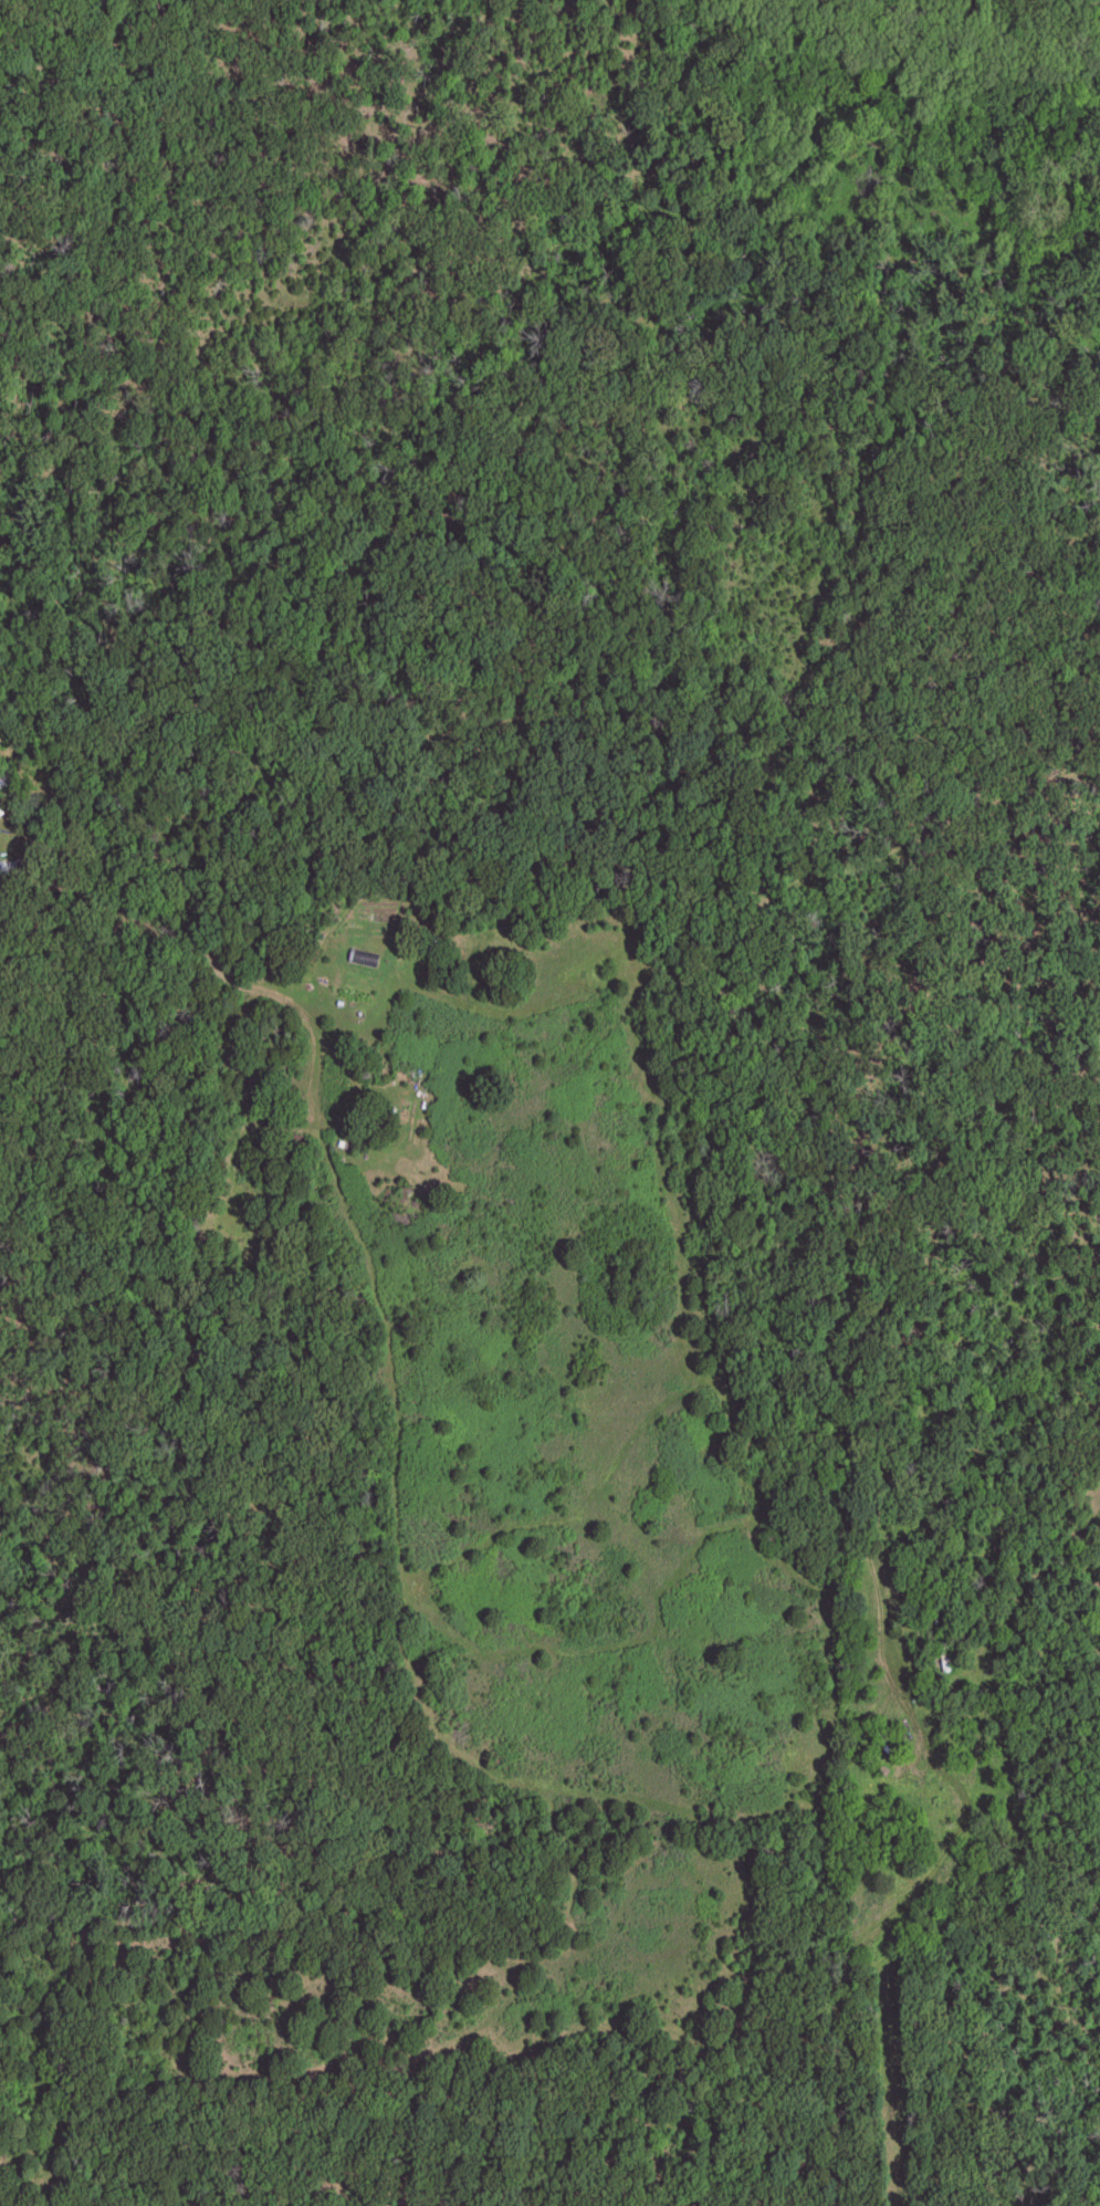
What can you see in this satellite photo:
building: (945, 1652)

